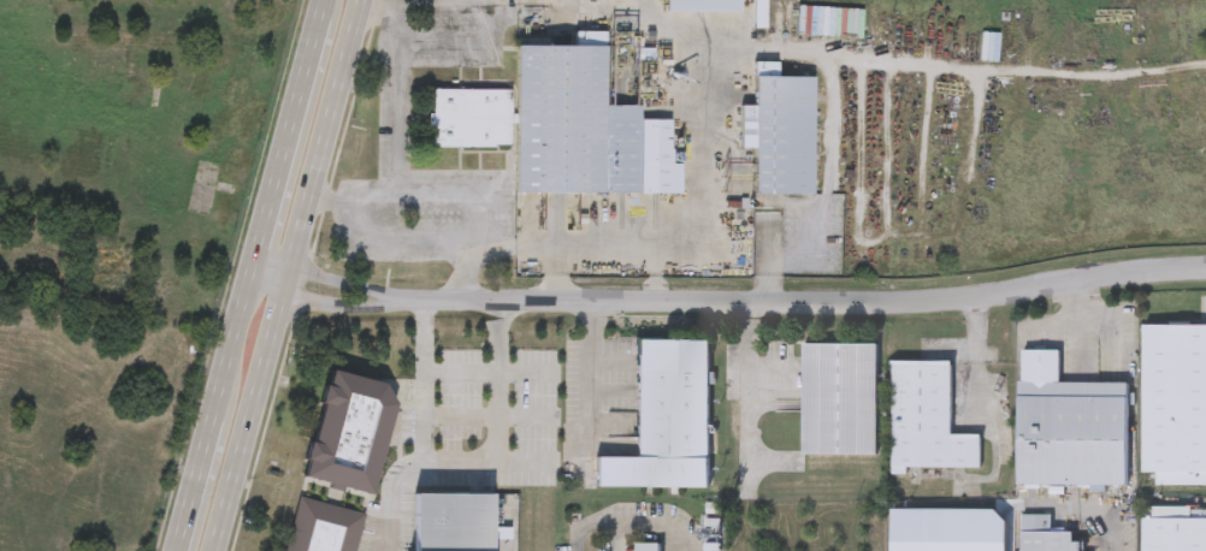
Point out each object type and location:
building: (988, 45)
road: (802, 52)
building: (471, 115)
building: (583, 126)
road: (300, 130)
building: (780, 131)
road: (335, 135)
road: (397, 147)
road: (374, 196)
road: (409, 242)
road: (515, 247)
road: (604, 251)
road: (282, 265)
road: (344, 282)
road: (323, 301)
road: (798, 306)
road: (1081, 319)
road: (1056, 321)
road: (246, 326)
road: (280, 336)
road: (593, 375)
building: (840, 396)
building: (1175, 401)
building: (666, 416)
building: (928, 416)
road: (391, 420)
building: (1068, 423)
building: (349, 429)
road: (496, 434)
road: (206, 472)
road: (241, 476)
building: (714, 508)
road: (650, 521)
building: (456, 522)
building: (715, 522)
building: (321, 526)
road: (591, 527)
building: (1174, 527)
road: (1112, 528)
building: (1047, 537)
building: (945, 541)
building: (649, 545)
building: (713, 546)

